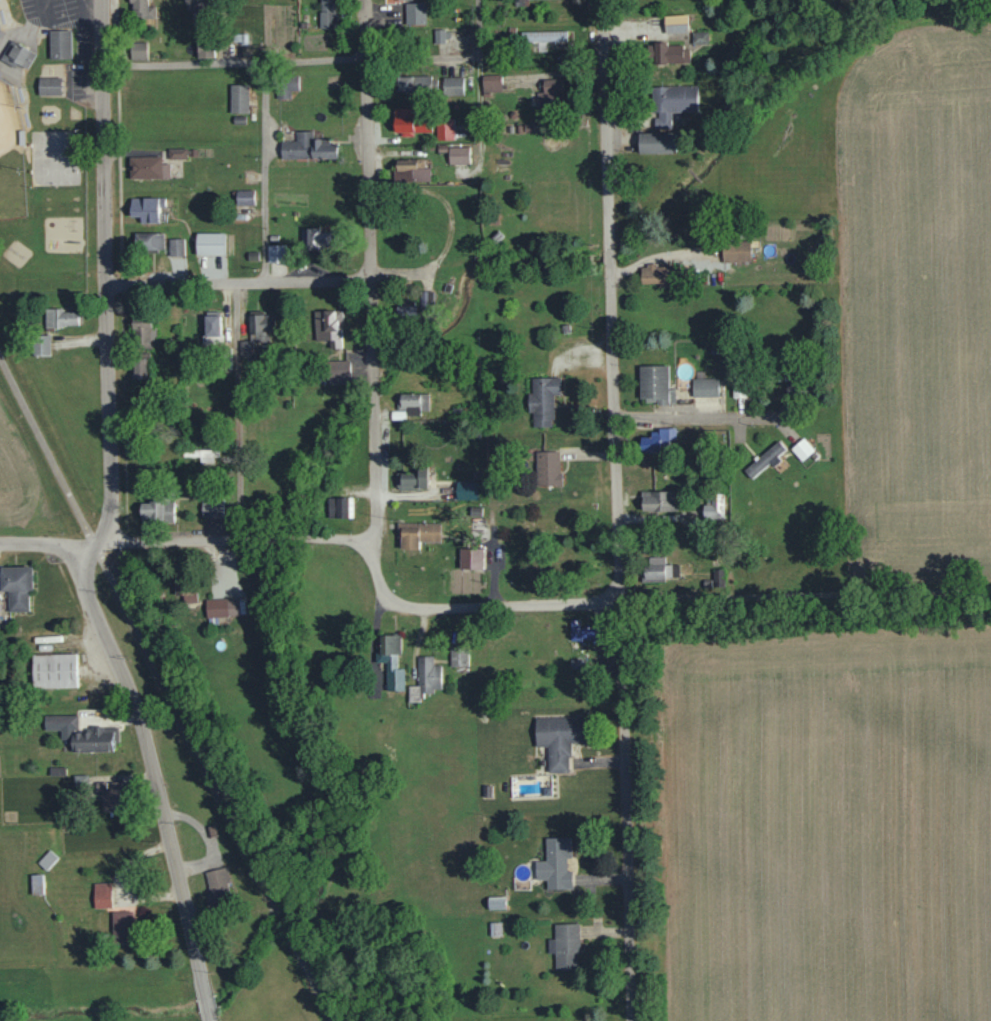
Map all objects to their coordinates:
building: (196, 3)
road: (44, 10)
building: (142, 12)
building: (415, 13)
building: (327, 14)
road: (61, 24)
building: (676, 24)
road: (115, 29)
road: (23, 31)
building: (441, 35)
building: (544, 36)
road: (3, 37)
building: (700, 37)
road: (94, 41)
building: (59, 42)
parking lot: (86, 44)
road: (88, 46)
building: (205, 48)
building: (139, 50)
building: (18, 52)
building: (668, 54)
road: (234, 59)
road: (116, 64)
road: (8, 68)
building: (491, 83)
building: (416, 84)
road: (478, 84)
building: (453, 85)
building: (50, 86)
road: (94, 92)
building: (550, 92)
building: (239, 99)
building: (672, 103)
building: (411, 122)
building: (444, 130)
building: (657, 143)
park: (43, 146)
building: (308, 147)
building: (177, 153)
building: (458, 155)
park: (11, 156)
park: (55, 157)
building: (148, 168)
road: (266, 170)
building: (412, 170)
road: (118, 174)
building: (245, 198)
building: (146, 209)
building: (315, 239)
building: (149, 241)
building: (210, 244)
building: (176, 247)
building: (736, 252)
building: (277, 254)
road: (105, 269)
road: (370, 270)
building: (658, 275)
road: (238, 282)
road: (121, 284)
building: (407, 311)
building: (60, 318)
building: (328, 327)
building: (212, 331)
building: (143, 332)
building: (257, 333)
building: (140, 370)
building: (339, 371)
building: (656, 385)
building: (705, 387)
building: (739, 391)
building: (543, 400)
building: (413, 403)
road: (239, 410)
road: (123, 412)
building: (398, 414)
road: (703, 419)
building: (660, 441)
road: (44, 447)
building: (802, 449)
building: (766, 459)
building: (548, 469)
building: (413, 479)
building: (467, 491)
building: (660, 501)
building: (340, 508)
building: (212, 509)
building: (714, 509)
road: (617, 510)
building: (157, 512)
building: (417, 534)
road: (126, 538)
road: (183, 539)
road: (93, 546)
building: (470, 563)
building: (658, 571)
building: (17, 586)
building: (186, 590)
road: (805, 595)
road: (472, 606)
building: (222, 607)
building: (586, 632)
parking lot: (55, 644)
building: (458, 656)
building: (391, 663)
road: (96, 668)
building: (54, 671)
building: (425, 679)
parking lot: (70, 692)
building: (82, 734)
building: (559, 738)
road: (149, 763)
road: (216, 789)
building: (113, 798)
building: (556, 862)
building: (218, 882)
building: (37, 883)
building: (102, 894)
building: (496, 902)
building: (122, 926)
building: (565, 945)
road: (206, 1000)

